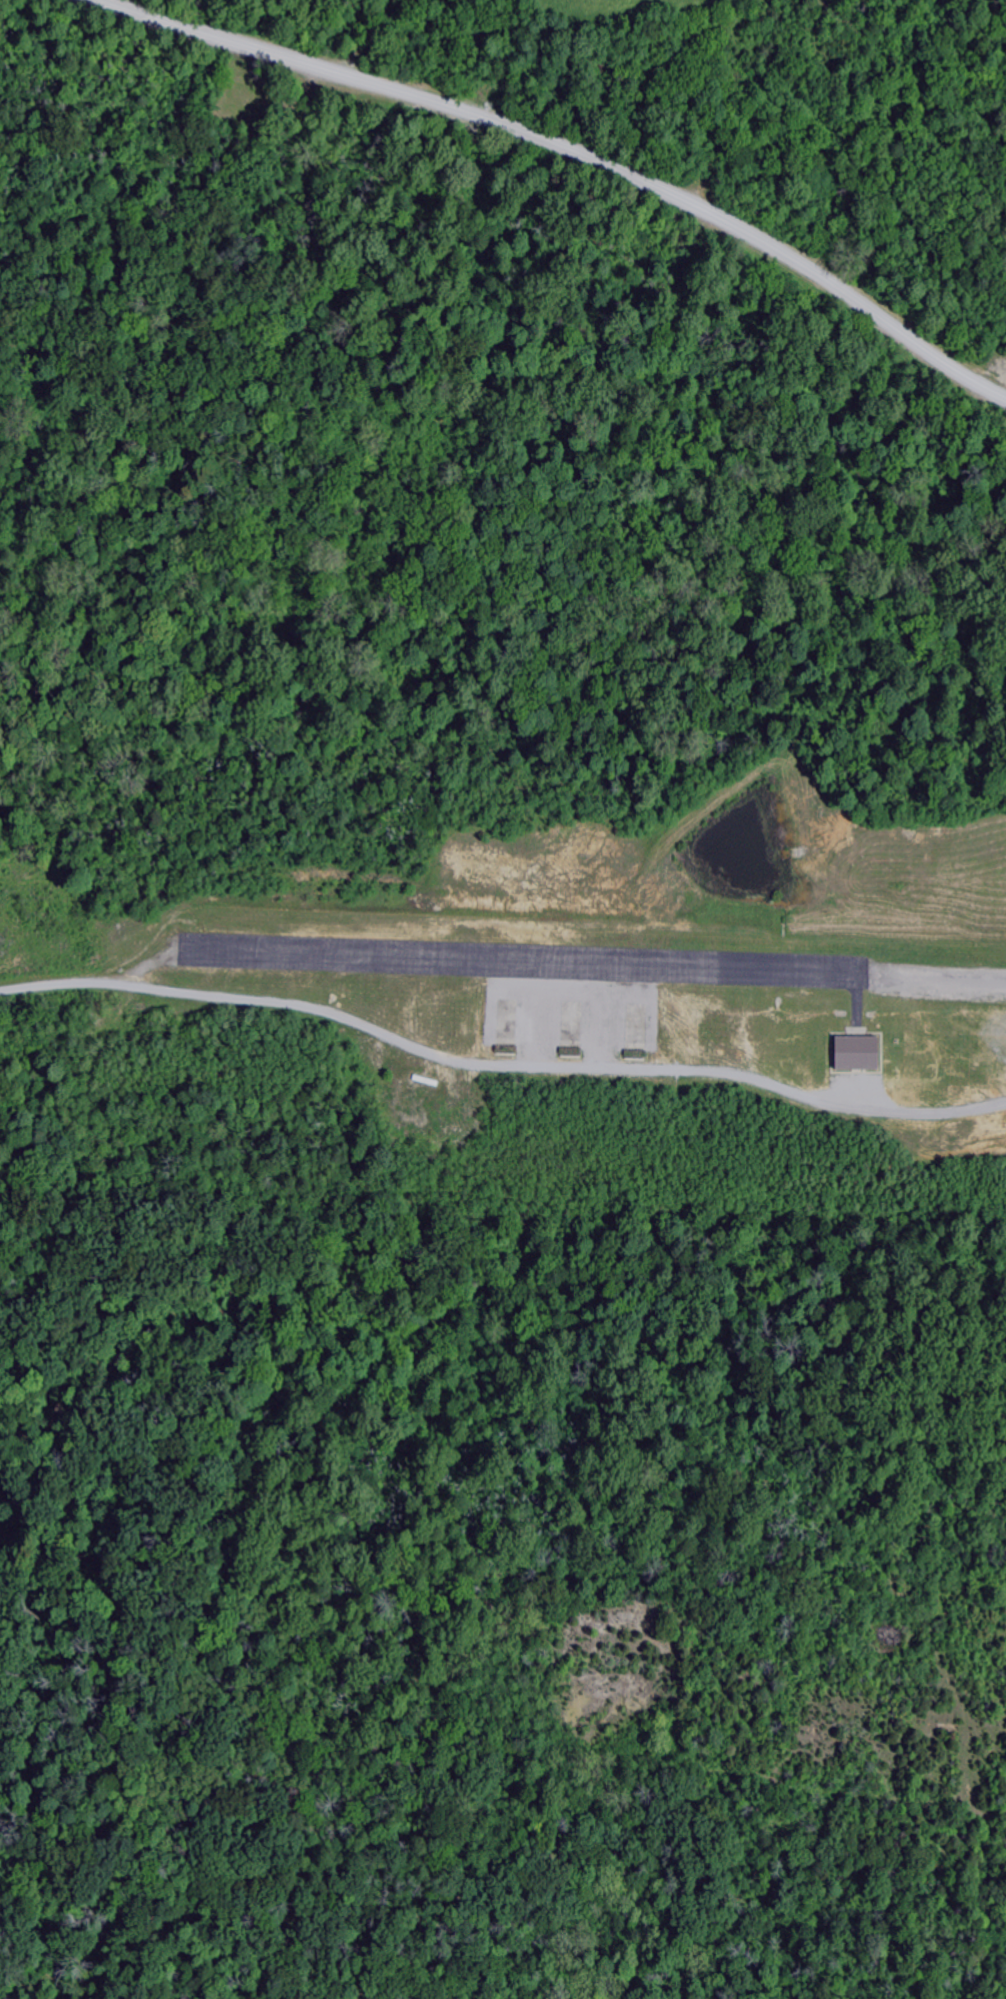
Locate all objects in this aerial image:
park: (244, 99)
road: (568, 149)
building: (844, 1053)
road: (500, 1070)

